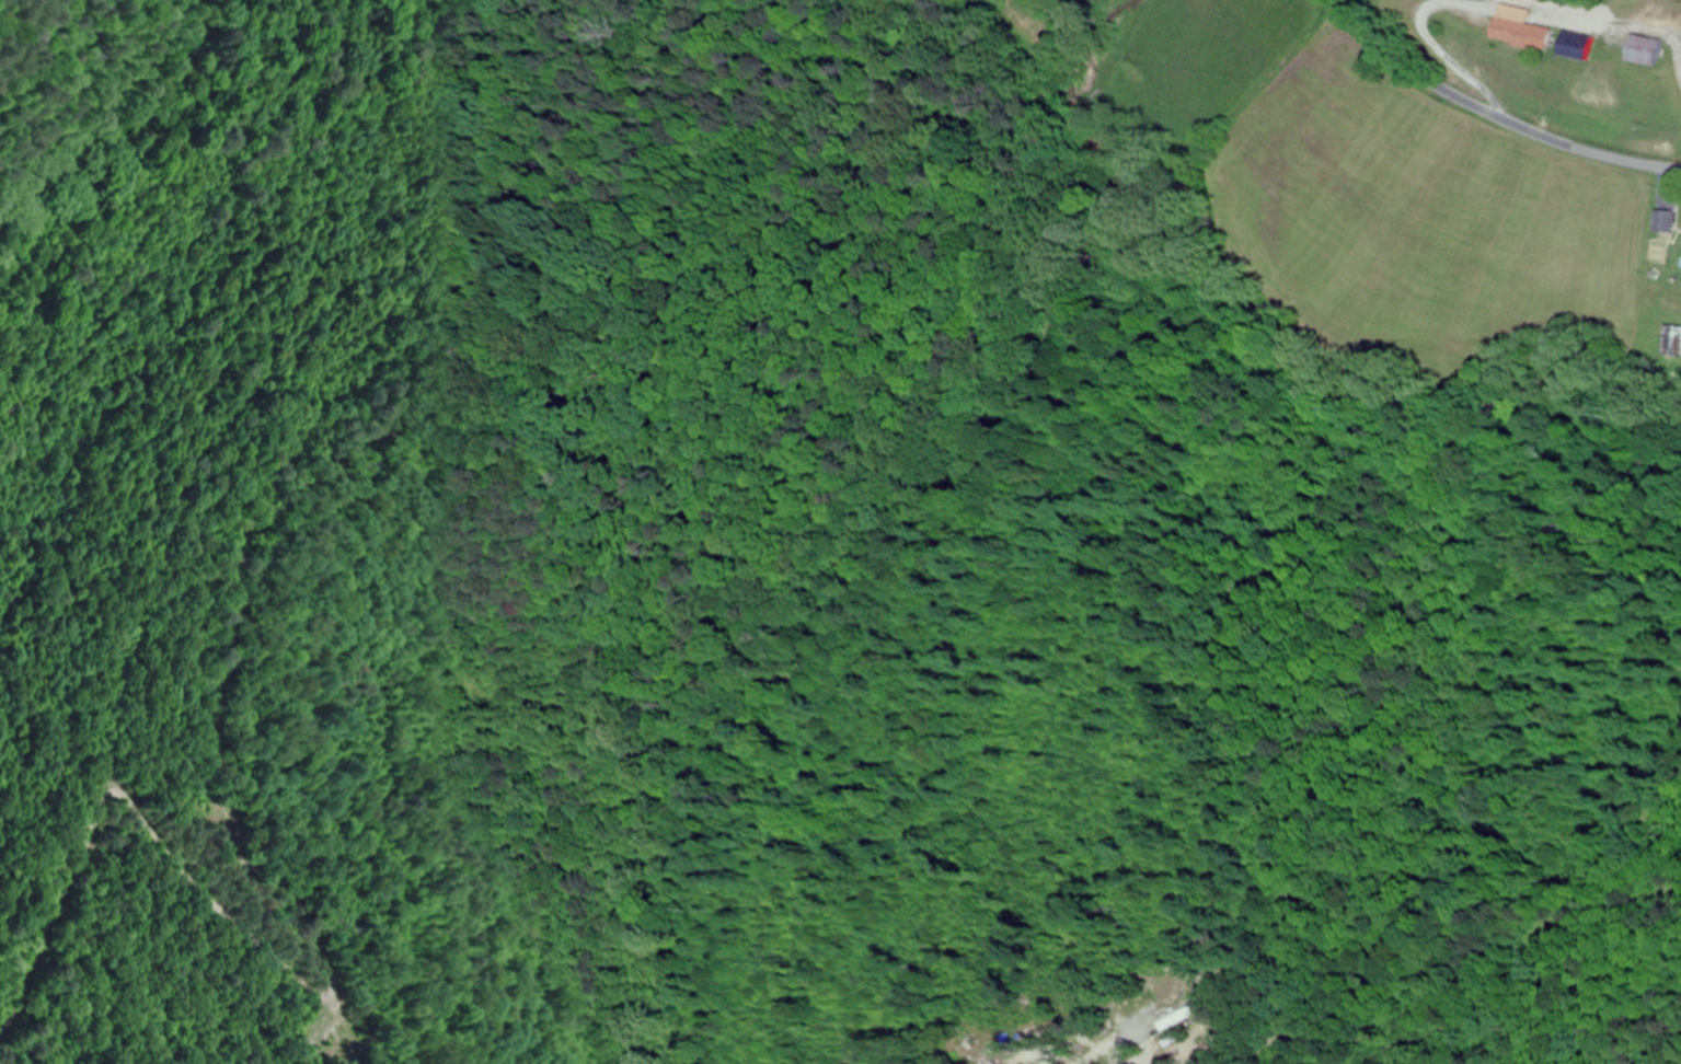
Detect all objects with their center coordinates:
building: (1522, 34)
building: (1577, 46)
building: (1646, 50)
road: (1489, 115)
building: (1663, 221)
building: (1672, 342)

